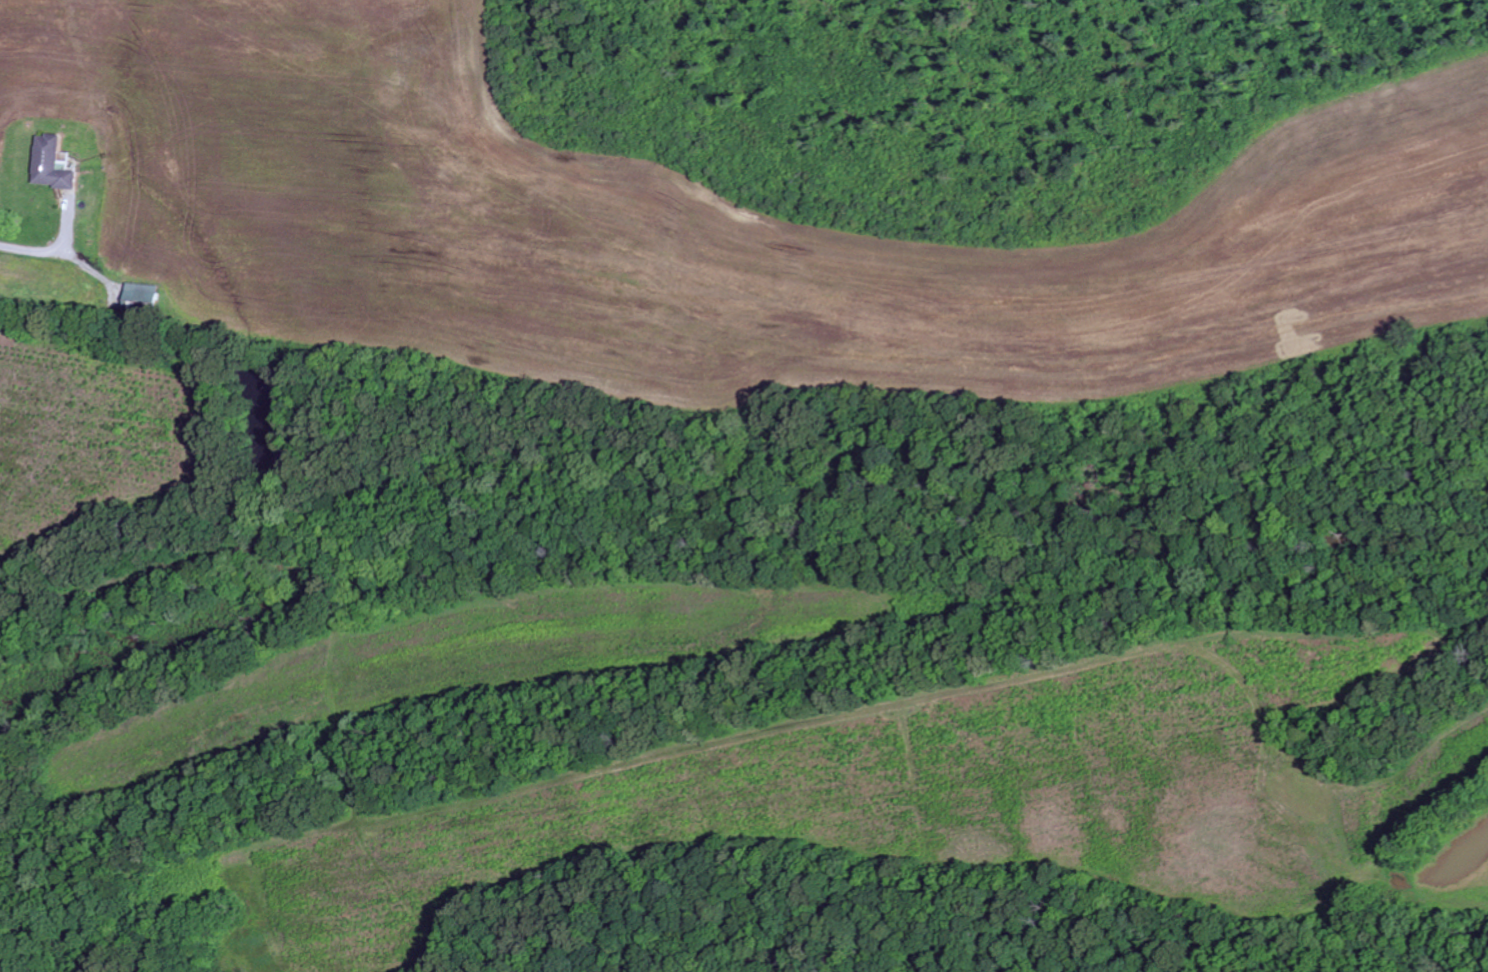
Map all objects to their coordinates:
building: (57, 163)
building: (146, 297)
road: (16, 968)

